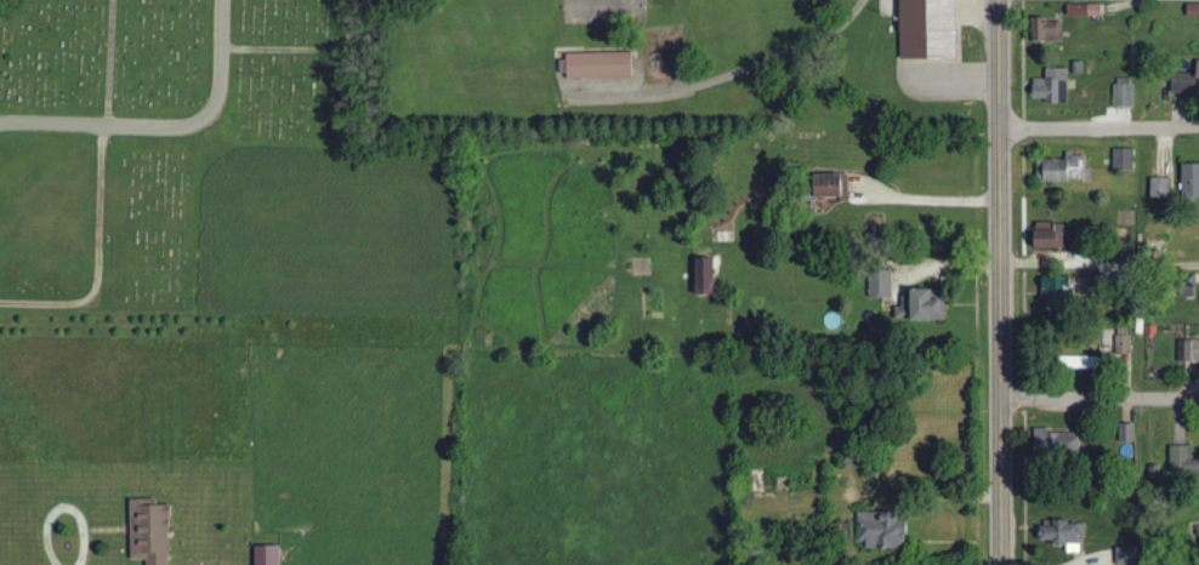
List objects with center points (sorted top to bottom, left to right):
building: (1091, 11)
building: (1194, 11)
building: (934, 29)
building: (1053, 32)
building: (601, 67)
building: (1187, 82)
building: (1056, 87)
building: (1127, 93)
road: (1098, 126)
road: (164, 127)
park: (144, 131)
building: (1127, 160)
building: (1067, 170)
building: (1192, 182)
building: (840, 187)
building: (1164, 189)
building: (1061, 238)
road: (1099, 261)
building: (711, 278)
road: (1000, 281)
building: (885, 285)
building: (1072, 291)
building: (926, 308)
building: (1126, 342)
building: (1191, 354)
building: (1091, 365)
road: (1099, 399)
building: (1061, 444)
building: (1183, 462)
building: (888, 531)
building: (155, 533)
building: (1067, 533)
building: (273, 555)
building: (1130, 557)

